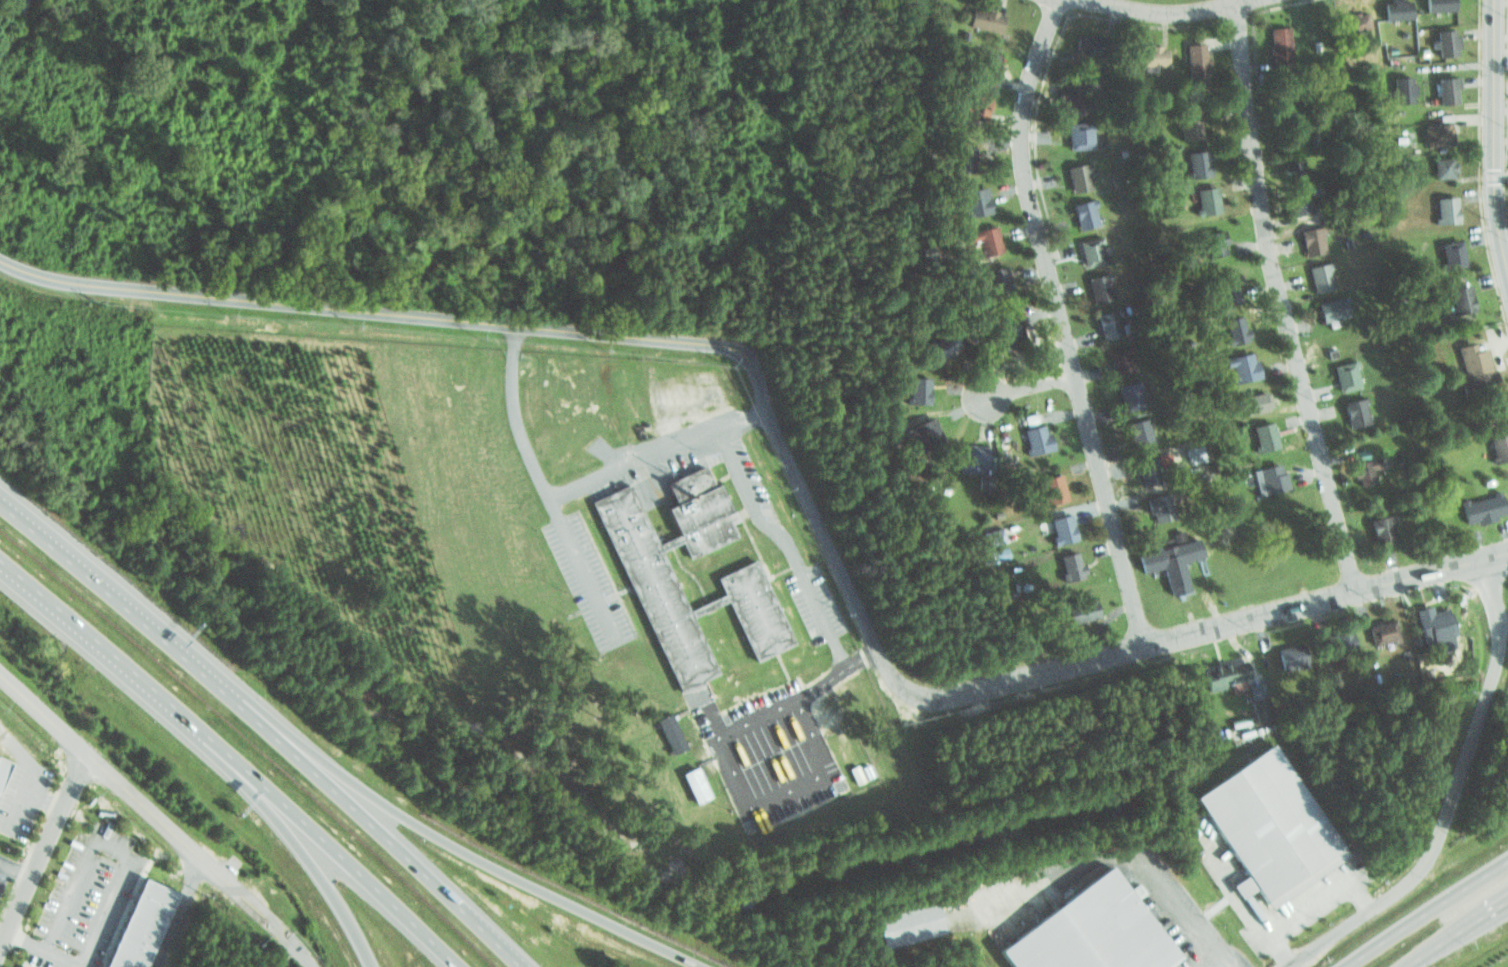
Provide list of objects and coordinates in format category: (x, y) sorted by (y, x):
building: (1434, 4)
building: (1392, 8)
road: (1169, 10)
building: (980, 18)
building: (1353, 21)
building: (1277, 35)
building: (1443, 40)
building: (1086, 43)
building: (1145, 54)
building: (1194, 61)
building: (982, 67)
building: (1401, 86)
building: (1441, 87)
building: (1067, 89)
building: (968, 100)
building: (1184, 124)
building: (1430, 133)
building: (1077, 134)
road: (1487, 143)
building: (960, 158)
building: (1191, 158)
building: (1200, 165)
building: (1288, 166)
building: (1440, 167)
building: (1295, 170)
building: (1075, 173)
building: (1200, 196)
building: (973, 200)
building: (1209, 201)
building: (1295, 203)
building: (1080, 210)
building: (1442, 210)
building: (1307, 237)
building: (980, 238)
building: (1210, 241)
building: (1089, 250)
building: (1448, 252)
building: (1317, 277)
building: (993, 279)
building: (1222, 283)
building: (1098, 286)
building: (1229, 291)
building: (1458, 297)
road: (1281, 300)
building: (1325, 309)
road: (363, 310)
road: (1062, 323)
building: (1106, 323)
building: (1002, 325)
building: (1231, 326)
building: (935, 341)
building: (947, 346)
building: (1119, 356)
building: (1469, 360)
building: (1241, 364)
building: (1341, 374)
building: (916, 384)
road: (1026, 389)
building: (1124, 392)
building: (1254, 398)
building: (1350, 410)
building: (1133, 431)
building: (924, 433)
building: (1033, 436)
building: (1266, 437)
building: (1498, 443)
building: (974, 460)
building: (1143, 467)
building: (1359, 468)
building: (1265, 478)
building: (1049, 487)
road: (553, 489)
building: (1158, 505)
building: (1477, 507)
building: (1059, 525)
building: (1380, 525)
building: (990, 532)
road: (781, 535)
building: (999, 555)
building: (1067, 561)
building: (1164, 564)
building: (641, 567)
building: (1075, 611)
building: (1428, 624)
building: (1381, 630)
building: (1337, 641)
building: (1285, 656)
building: (1223, 671)
road: (1012, 679)
building: (1255, 690)
road: (265, 726)
building: (1246, 728)
building: (673, 734)
road: (234, 757)
building: (4, 768)
road: (33, 773)
building: (697, 785)
road: (1452, 793)
road: (44, 801)
road: (160, 816)
building: (1273, 829)
road: (96, 839)
road: (45, 849)
road: (462, 852)
road: (305, 860)
road: (2, 866)
road: (17, 868)
road: (1365, 890)
road: (1180, 908)
road: (180, 912)
road: (1426, 913)
building: (897, 922)
building: (145, 923)
road: (1257, 926)
building: (1094, 930)
road: (1454, 933)
road: (24, 945)
road: (1276, 951)
road: (1218, 960)

